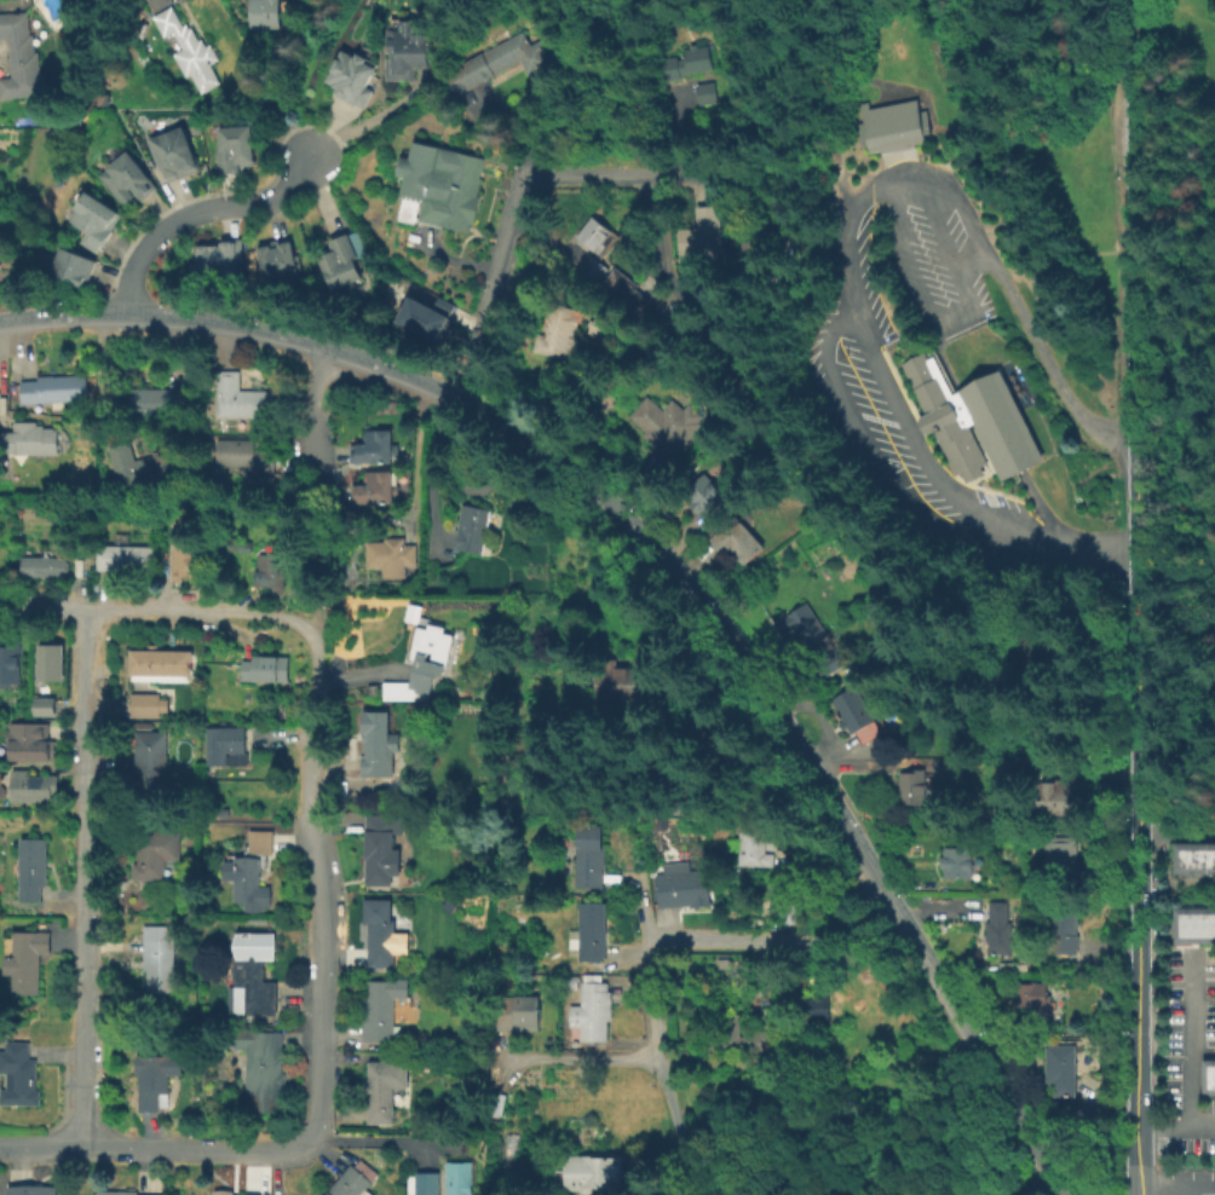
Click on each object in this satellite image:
building: (266, 12)
building: (407, 46)
building: (188, 48)
building: (22, 57)
building: (499, 60)
building: (691, 62)
building: (349, 74)
road: (850, 79)
building: (710, 92)
road: (1131, 112)
building: (892, 126)
road: (508, 132)
building: (236, 145)
building: (174, 150)
road: (922, 155)
building: (128, 174)
road: (653, 175)
building: (438, 185)
road: (845, 191)
road: (198, 214)
building: (96, 217)
road: (783, 223)
road: (1187, 224)
road: (650, 230)
road: (663, 230)
building: (706, 232)
road: (549, 235)
building: (600, 247)
building: (750, 252)
building: (215, 255)
building: (276, 256)
road: (457, 258)
road: (846, 258)
building: (338, 260)
building: (74, 262)
road: (1002, 278)
road: (499, 287)
building: (626, 293)
building: (427, 317)
road: (955, 322)
road: (238, 324)
building: (563, 331)
road: (1131, 331)
building: (718, 335)
building: (54, 388)
building: (241, 397)
building: (157, 400)
road: (311, 410)
building: (975, 421)
park: (1185, 422)
building: (670, 426)
road: (911, 433)
building: (28, 439)
building: (374, 446)
road: (415, 457)
building: (247, 458)
road: (871, 458)
building: (142, 468)
road: (431, 471)
building: (375, 487)
building: (709, 495)
building: (534, 504)
building: (474, 527)
building: (739, 539)
building: (240, 544)
road: (1064, 547)
road: (318, 555)
building: (388, 555)
building: (126, 556)
building: (185, 558)
building: (45, 566)
building: (270, 571)
road: (156, 608)
building: (414, 612)
building: (814, 637)
building: (10, 658)
building: (51, 660)
building: (157, 662)
building: (425, 664)
building: (1025, 666)
building: (265, 668)
building: (621, 681)
building: (150, 704)
building: (47, 706)
building: (282, 711)
building: (860, 717)
building: (28, 743)
building: (379, 744)
building: (226, 745)
road: (806, 760)
building: (149, 762)
building: (939, 763)
building: (914, 785)
building: (34, 786)
building: (1056, 801)
building: (224, 812)
road: (1133, 816)
road: (1174, 836)
building: (754, 847)
building: (382, 848)
building: (157, 853)
building: (589, 855)
building: (1060, 860)
building: (957, 861)
building: (1191, 864)
building: (33, 868)
building: (251, 874)
road: (85, 877)
building: (679, 884)
road: (321, 888)
building: (783, 900)
road: (640, 907)
building: (1065, 925)
building: (1192, 925)
building: (995, 928)
building: (381, 930)
building: (593, 931)
road: (777, 939)
building: (27, 960)
building: (160, 964)
building: (257, 971)
building: (572, 982)
building: (1035, 999)
building: (380, 1008)
building: (813, 1008)
building: (593, 1009)
building: (519, 1012)
building: (741, 1037)
road: (1186, 1039)
road: (655, 1044)
road: (578, 1058)
road: (816, 1058)
building: (263, 1068)
building: (1060, 1069)
building: (18, 1076)
building: (155, 1078)
building: (1205, 1079)
building: (381, 1091)
building: (496, 1103)
road: (1174, 1125)
road: (375, 1141)
road: (155, 1150)
building: (595, 1171)
road: (273, 1173)
building: (459, 1178)
building: (355, 1182)
building: (427, 1184)
road: (1027, 1187)
road: (1158, 1189)
building: (33, 1191)
building: (119, 1193)
building: (228, 1193)

